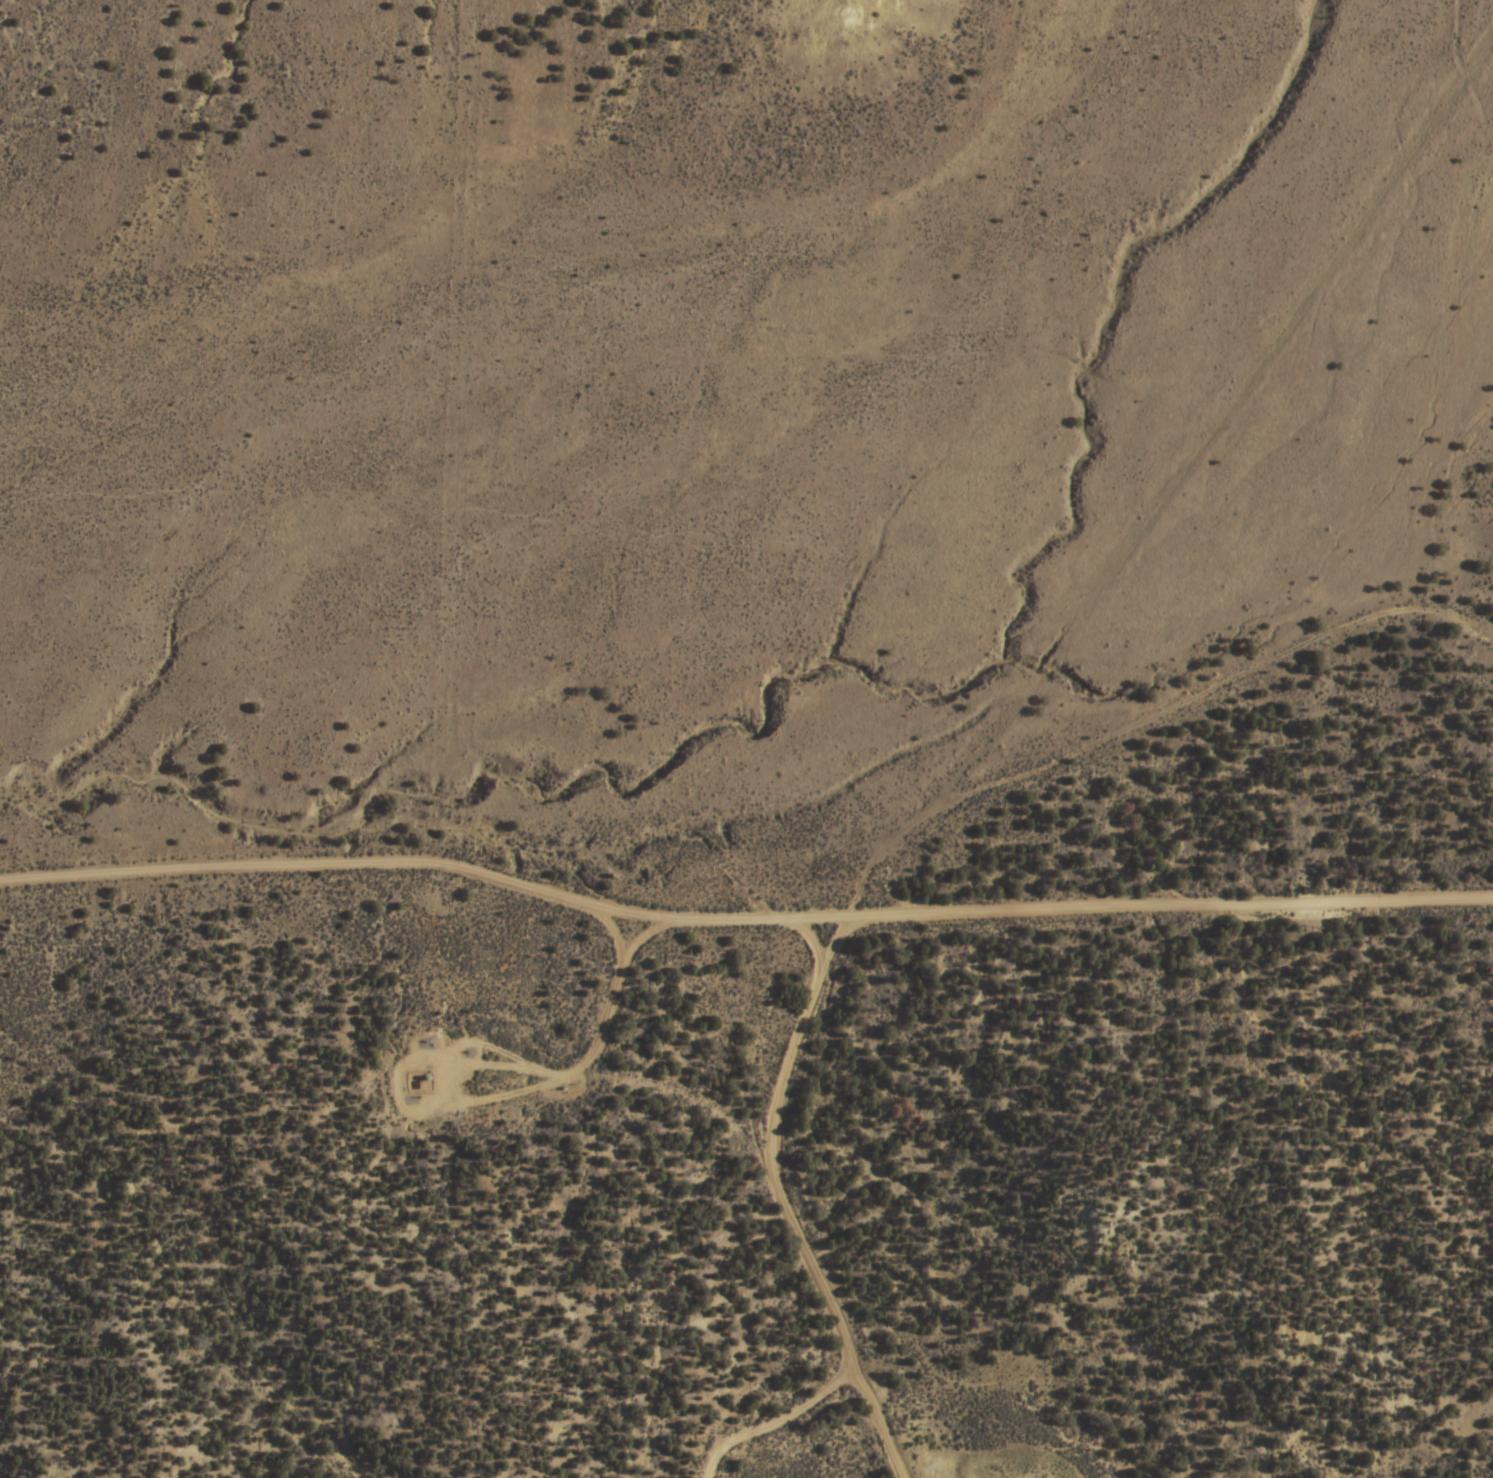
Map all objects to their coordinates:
road: (1283, 313)
road: (906, 824)
road: (744, 928)
road: (802, 1211)

